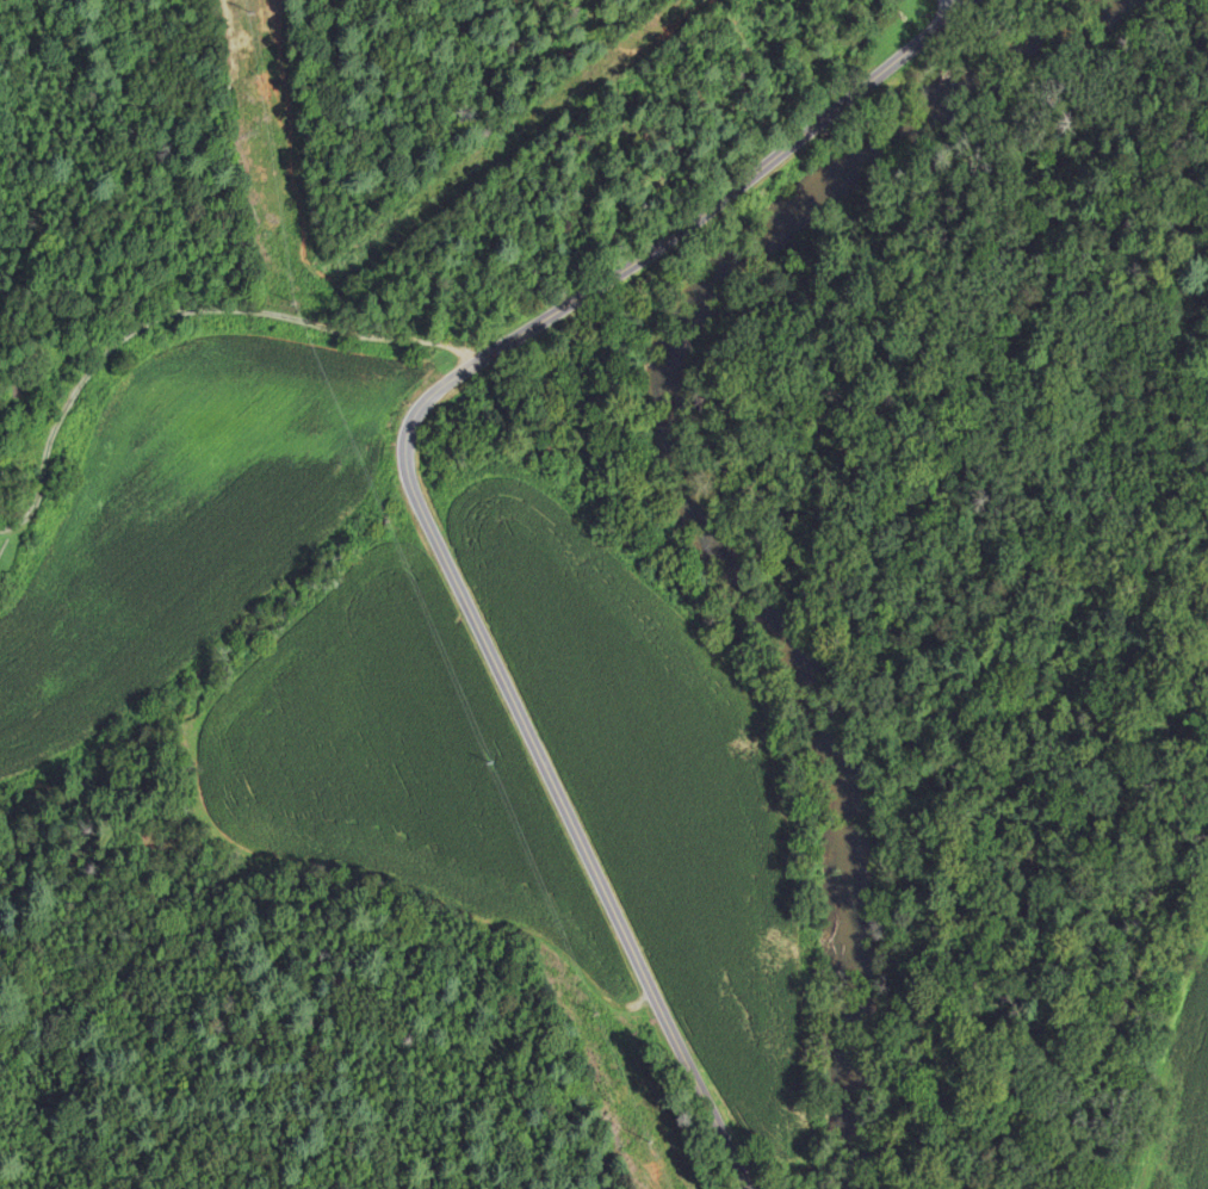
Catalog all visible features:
road: (950, 7)
road: (668, 241)
building: (0, 291)
road: (180, 311)
building: (1, 369)
river: (682, 495)
road: (417, 498)
crop: (401, 775)
crop: (662, 785)
road: (583, 848)

